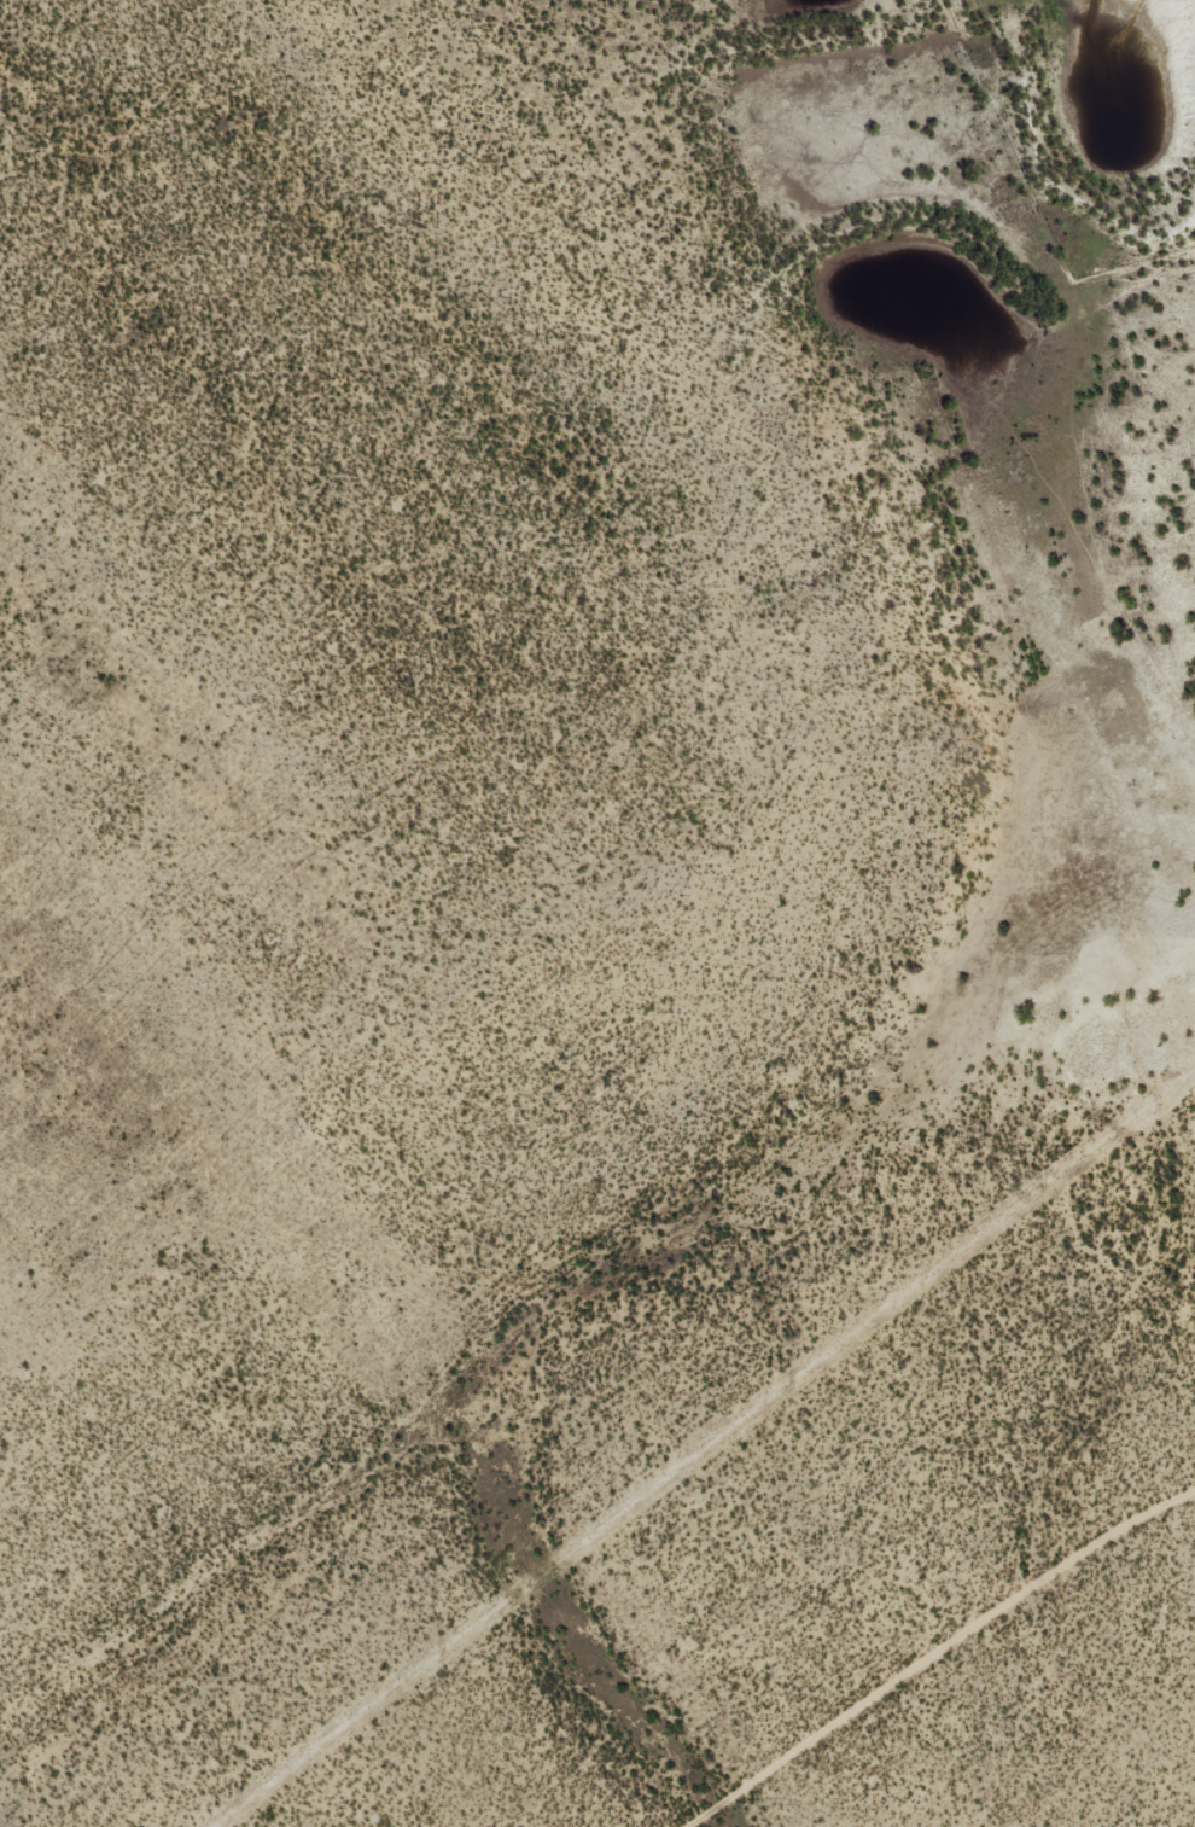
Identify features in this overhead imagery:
road: (943, 932)
road: (938, 1654)

